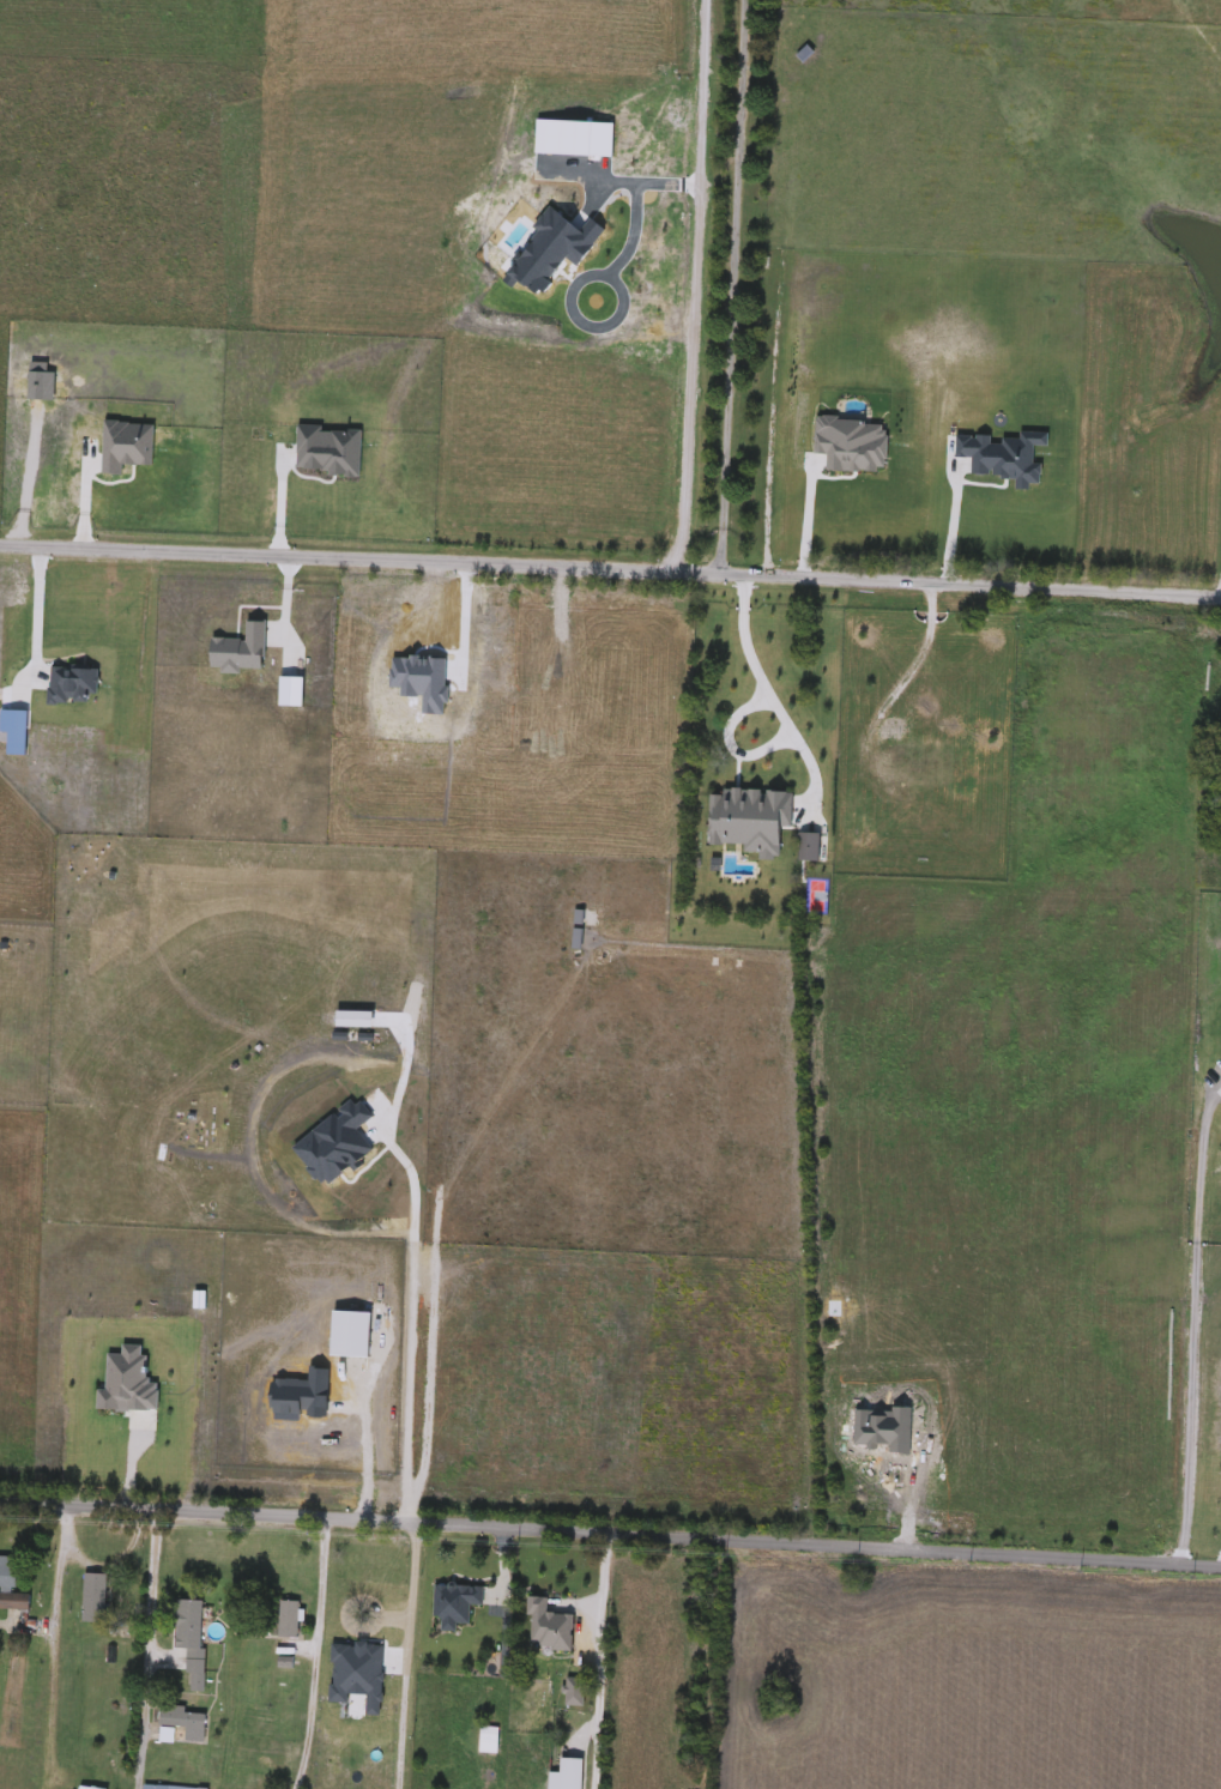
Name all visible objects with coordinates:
road: (635, 191)
road: (694, 286)
road: (729, 286)
road: (276, 497)
road: (805, 516)
road: (951, 522)
road: (610, 569)
road: (35, 612)
road: (1056, 634)
road: (774, 703)
road: (729, 744)
road: (409, 1320)
road: (1197, 1323)
road: (365, 1439)
road: (927, 1481)
road: (612, 1523)
road: (55, 1573)
building: (12, 1588)
building: (377, 1592)
building: (96, 1600)
building: (455, 1606)
building: (558, 1612)
building: (290, 1620)
building: (191, 1643)
road: (147, 1649)
road: (407, 1650)
road: (315, 1655)
road: (603, 1656)
building: (185, 1724)
building: (167, 1737)
building: (490, 1737)

